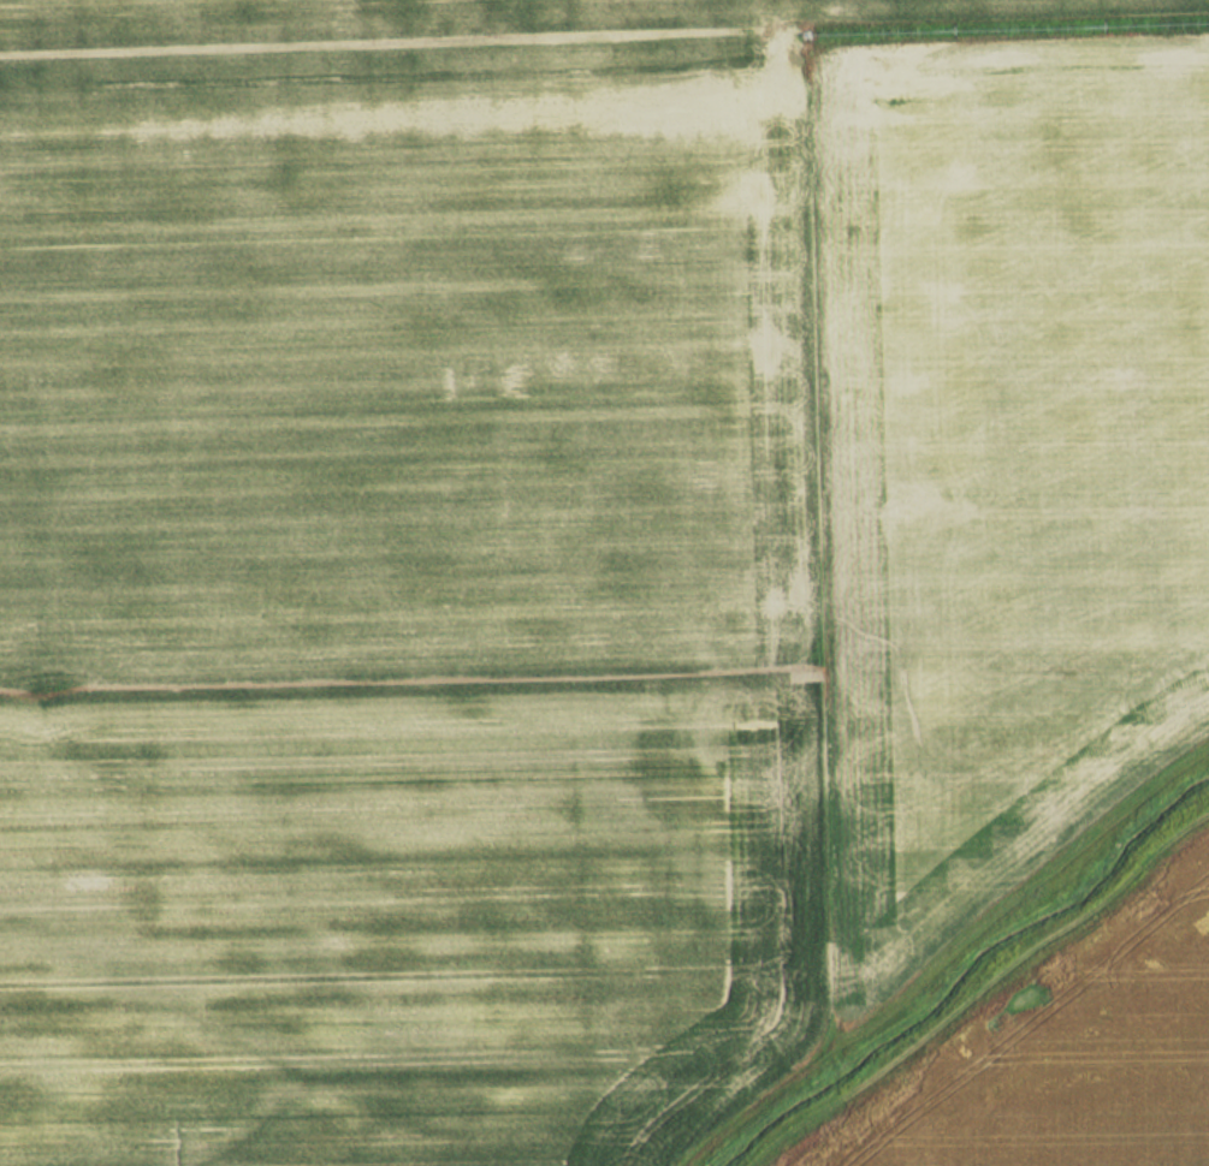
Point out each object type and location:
crop: (564, 542)
crop: (1063, 1053)

